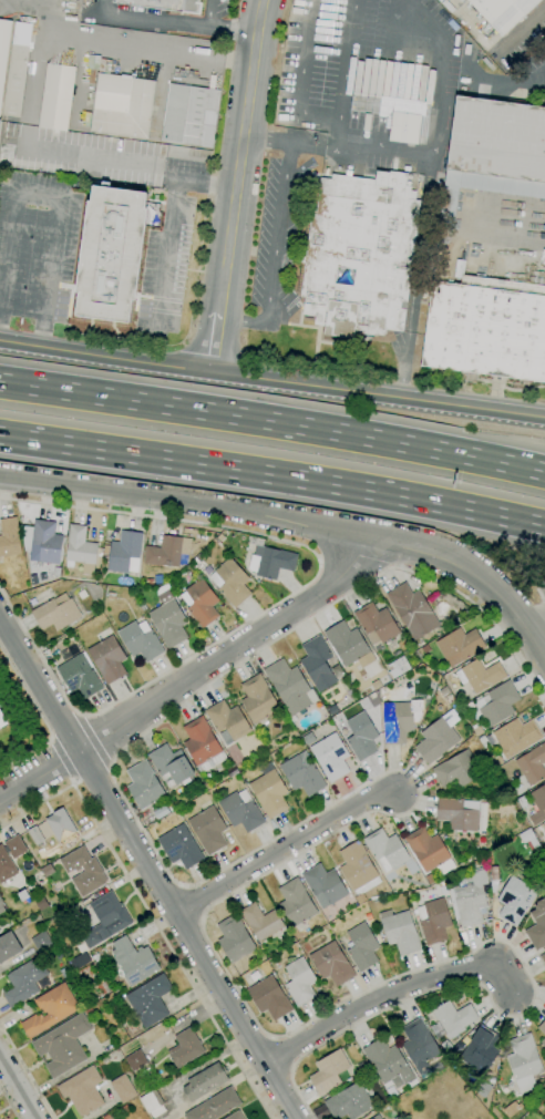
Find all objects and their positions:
road: (6, 2)
building: (166, 4)
building: (503, 11)
road: (209, 12)
road: (40, 18)
road: (173, 21)
building: (3, 49)
road: (342, 73)
road: (385, 75)
parking lot: (372, 81)
road: (297, 82)
building: (14, 90)
road: (34, 92)
building: (56, 97)
road: (407, 99)
building: (370, 104)
building: (122, 105)
building: (192, 113)
road: (327, 113)
building: (404, 127)
road: (434, 131)
road: (277, 142)
building: (493, 154)
road: (238, 186)
road: (56, 197)
road: (543, 217)
road: (276, 232)
parking lot: (274, 233)
road: (421, 245)
parking lot: (38, 248)
road: (166, 251)
building: (111, 254)
building: (360, 254)
parking lot: (165, 266)
road: (244, 319)
building: (486, 327)
road: (404, 365)
road: (271, 380)
road: (272, 423)
road: (272, 475)
road: (187, 503)
building: (9, 538)
building: (45, 543)
building: (80, 550)
building: (167, 551)
building: (125, 552)
road: (354, 557)
building: (271, 562)
building: (197, 564)
road: (473, 573)
building: (148, 582)
building: (230, 582)
road: (541, 596)
road: (282, 598)
building: (200, 603)
building: (412, 610)
building: (55, 613)
building: (168, 622)
road: (536, 622)
building: (376, 624)
building: (140, 640)
building: (346, 643)
building: (459, 646)
building: (65, 651)
building: (107, 656)
building: (316, 660)
building: (398, 667)
building: (480, 675)
building: (79, 677)
road: (195, 678)
building: (376, 685)
building: (290, 687)
building: (258, 698)
building: (496, 704)
road: (41, 718)
building: (2, 720)
building: (227, 720)
building: (398, 723)
road: (64, 728)
building: (477, 730)
building: (361, 736)
building: (438, 737)
building: (516, 737)
road: (92, 741)
building: (202, 746)
building: (330, 756)
road: (61, 757)
building: (172, 764)
building: (532, 764)
road: (89, 770)
building: (457, 770)
building: (302, 774)
road: (73, 781)
building: (143, 784)
building: (269, 791)
building: (523, 801)
building: (538, 804)
building: (172, 807)
building: (241, 811)
building: (161, 812)
building: (457, 813)
road: (390, 814)
building: (61, 827)
building: (208, 830)
building: (35, 835)
building: (181, 848)
road: (287, 848)
building: (385, 850)
building: (429, 851)
building: (477, 853)
building: (7, 866)
road: (150, 866)
building: (358, 869)
building: (92, 872)
building: (430, 879)
building: (325, 883)
building: (23, 894)
building: (471, 899)
building: (1, 900)
building: (514, 900)
road: (187, 903)
building: (296, 903)
building: (1, 907)
road: (150, 915)
building: (105, 920)
building: (261, 921)
building: (433, 921)
building: (537, 925)
building: (401, 932)
building: (20, 937)
building: (235, 938)
building: (41, 942)
building: (8, 946)
building: (361, 947)
building: (543, 957)
building: (134, 961)
building: (332, 964)
building: (24, 982)
building: (299, 982)
road: (398, 993)
building: (269, 997)
building: (150, 1000)
building: (50, 1009)
building: (453, 1018)
building: (542, 1027)
building: (131, 1028)
building: (436, 1030)
building: (543, 1041)
building: (63, 1045)
building: (419, 1045)
building: (445, 1045)
building: (185, 1048)
building: (481, 1050)
road: (277, 1054)
building: (135, 1060)
building: (387, 1061)
building: (523, 1061)
building: (328, 1071)
road: (27, 1072)
building: (205, 1081)
road: (19, 1086)
building: (123, 1088)
building: (483, 1088)
building: (82, 1091)
building: (349, 1102)
road: (8, 1103)
building: (153, 1103)
building: (215, 1106)
building: (124, 1109)
building: (235, 1116)
building: (376, 1117)

